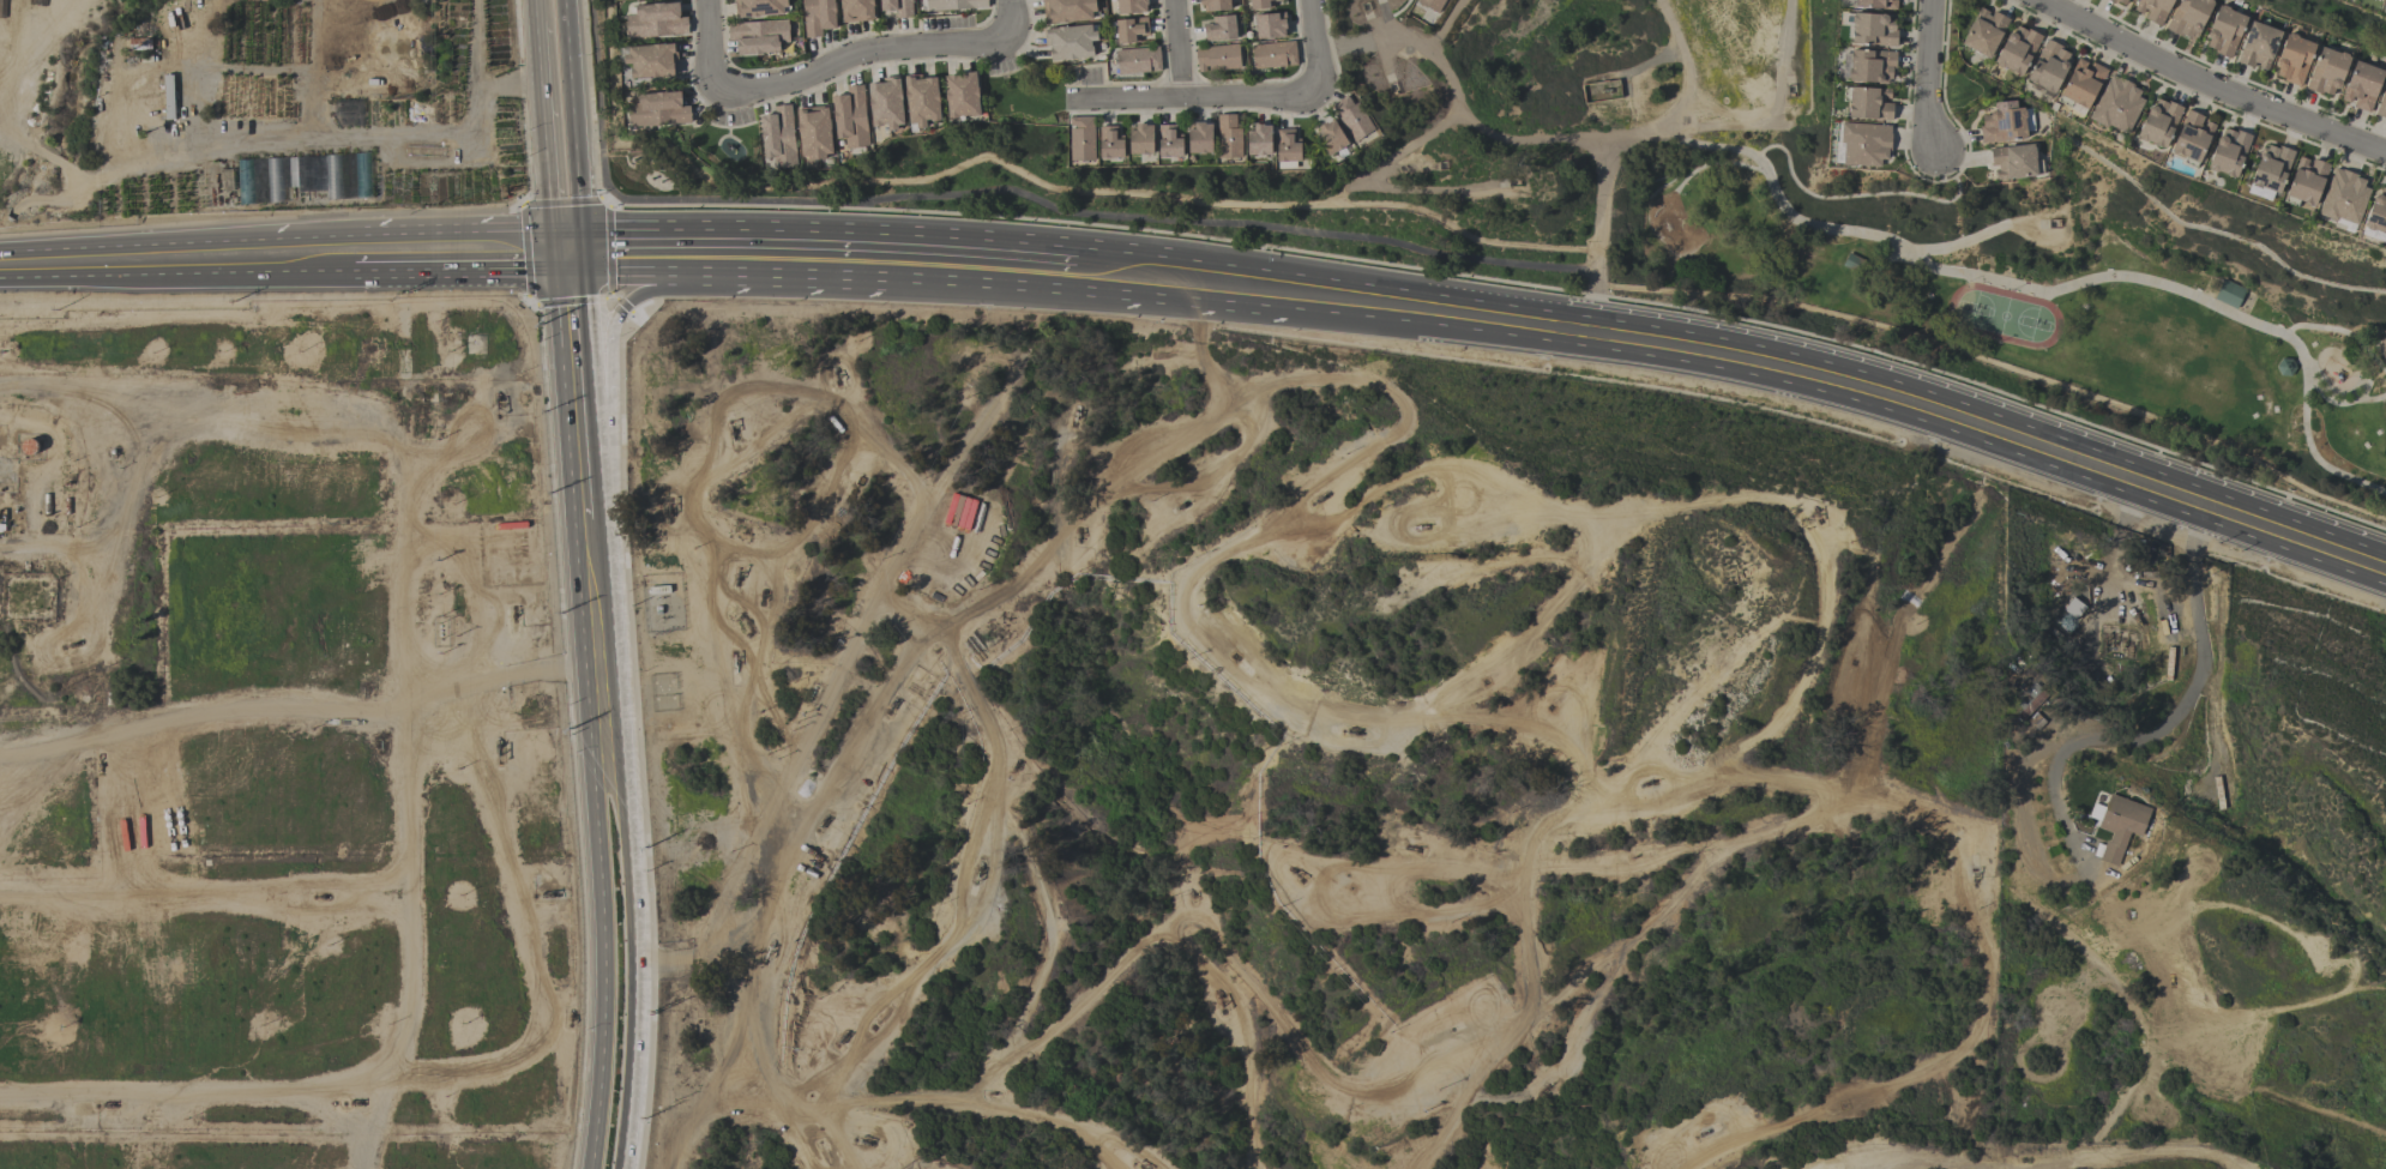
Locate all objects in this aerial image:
building: (1264, 2)
building: (2123, 2)
building: (1213, 4)
building: (1876, 4)
building: (954, 5)
building: (1433, 5)
building: (1131, 6)
building: (758, 7)
building: (897, 7)
building: (856, 10)
building: (1067, 10)
building: (2152, 10)
building: (817, 17)
building: (2188, 17)
road: (1010, 19)
building: (656, 20)
building: (1270, 25)
building: (1221, 29)
building: (1131, 30)
building: (1873, 30)
building: (2224, 31)
building: (1983, 32)
building: (758, 36)
road: (711, 42)
building: (1071, 42)
building: (2258, 46)
road: (1314, 47)
road: (1179, 49)
building: (2017, 49)
building: (1273, 54)
road: (860, 55)
building: (1217, 58)
building: (2294, 59)
building: (651, 60)
building: (1137, 60)
road: (1682, 62)
building: (1870, 66)
building: (2048, 66)
building: (2327, 71)
road: (1929, 79)
road: (2212, 85)
building: (2361, 85)
building: (962, 95)
park: (1028, 97)
road: (1191, 97)
building: (922, 100)
building: (1869, 103)
building: (2381, 103)
building: (885, 104)
building: (2116, 106)
building: (658, 109)
building: (850, 117)
building: (1351, 117)
building: (2005, 122)
building: (2158, 122)
road: (562, 125)
building: (813, 132)
building: (1228, 135)
building: (778, 137)
building: (1330, 137)
building: (2192, 137)
building: (1080, 138)
building: (1199, 138)
building: (1140, 139)
building: (1258, 140)
building: (1109, 141)
building: (1168, 141)
building: (1863, 144)
building: (1287, 146)
park: (724, 149)
building: (2228, 152)
road: (1609, 158)
building: (2013, 162)
road: (1713, 165)
building: (2271, 168)
building: (2306, 180)
building: (2343, 195)
road: (1866, 197)
road: (722, 201)
park: (1671, 207)
building: (2376, 211)
road: (1222, 222)
road: (462, 248)
traffic signals: (572, 249)
road: (693, 249)
road: (1939, 249)
road: (942, 257)
road: (176, 259)
road: (1599, 261)
road: (1125, 272)
park: (2050, 278)
road: (1235, 285)
road: (2060, 289)
road: (651, 290)
building: (2229, 294)
road: (1631, 299)
road: (1355, 302)
road: (1597, 308)
park: (2004, 317)
road: (1507, 321)
road: (2340, 333)
road: (578, 344)
building: (2382, 347)
building: (2285, 367)
petroleum well: (835, 372)
petroleum well: (495, 399)
road: (2334, 404)
petroleum well: (1075, 414)
road: (1996, 430)
petroleum well: (733, 432)
road: (588, 481)
road: (1325, 484)
road: (691, 488)
petroleum well: (1321, 499)
road: (1703, 504)
petroleum well: (669, 508)
petroleum well: (1816, 512)
petroleum well: (1422, 528)
petroleum well: (1078, 534)
petroleum well: (736, 577)
road: (595, 597)
building: (2073, 608)
petroleum well: (513, 615)
road: (1524, 638)
petroleum well: (2103, 641)
petroleum well: (71, 643)
petroleum well: (2113, 643)
petroleum well: (2121, 643)
petroleum well: (2128, 646)
petroleum well: (735, 664)
road: (830, 688)
building: (2032, 699)
petroleum well: (1555, 701)
petroleum well: (888, 704)
road: (2162, 729)
petroleum well: (1352, 730)
petroleum well: (495, 745)
park: (2322, 763)
road: (1721, 781)
petroleum well: (1650, 782)
road: (1903, 811)
petroleum well: (823, 822)
building: (2116, 824)
petroleum well: (1412, 848)
road: (988, 870)
petroleum well: (1293, 870)
petroleum well: (978, 872)
petroleum well: (1972, 876)
petroleum well: (1191, 891)
petroleum well: (548, 892)
petroleum well: (320, 893)
road: (632, 918)
road: (601, 920)
petroleum well: (769, 951)
road: (1047, 956)
road: (1575, 981)
petroleum well: (570, 1016)
petroleum well: (882, 1022)
petroleum well: (843, 1035)
road: (1240, 1041)
road: (760, 1075)
road: (1346, 1086)
petroleum well: (1546, 1087)
petroleum well: (350, 1097)
road: (705, 1097)
road: (1460, 1103)
petroleum well: (107, 1104)
road: (978, 1107)
petroleum well: (1699, 1132)
petroleum well: (864, 1141)
road: (2077, 1165)
petroleum well: (1141, 1168)

